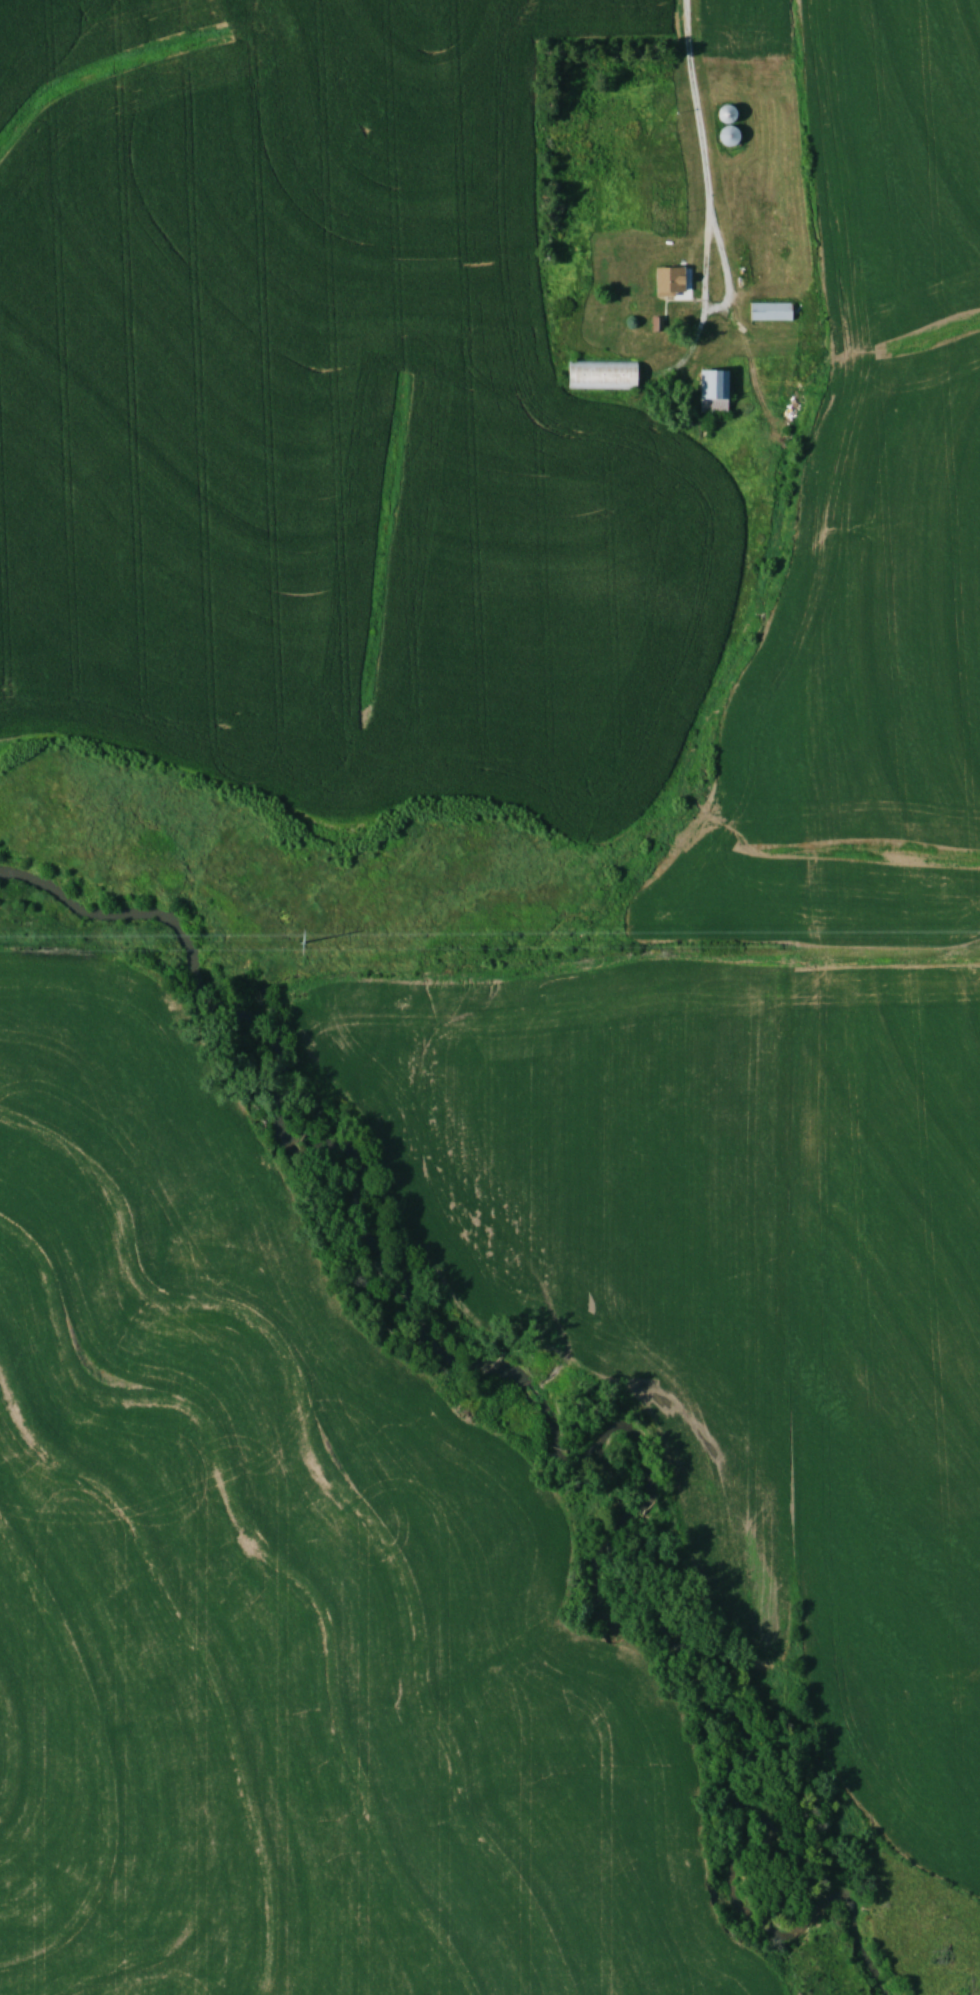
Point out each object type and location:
road: (699, 110)
building: (723, 113)
building: (726, 137)
building: (765, 248)
building: (666, 279)
road: (713, 309)
building: (768, 311)
building: (599, 376)
building: (709, 392)
power tower: (298, 938)

